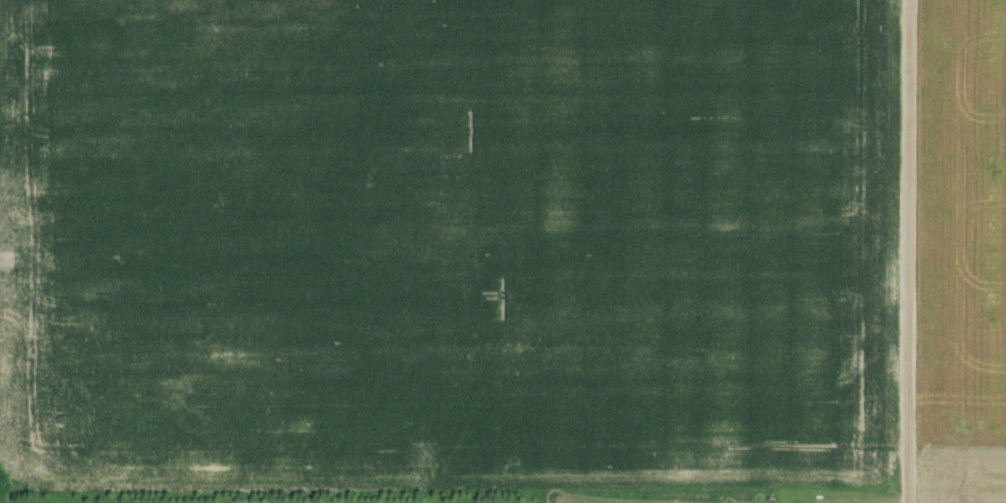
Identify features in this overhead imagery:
road: (906, 251)

